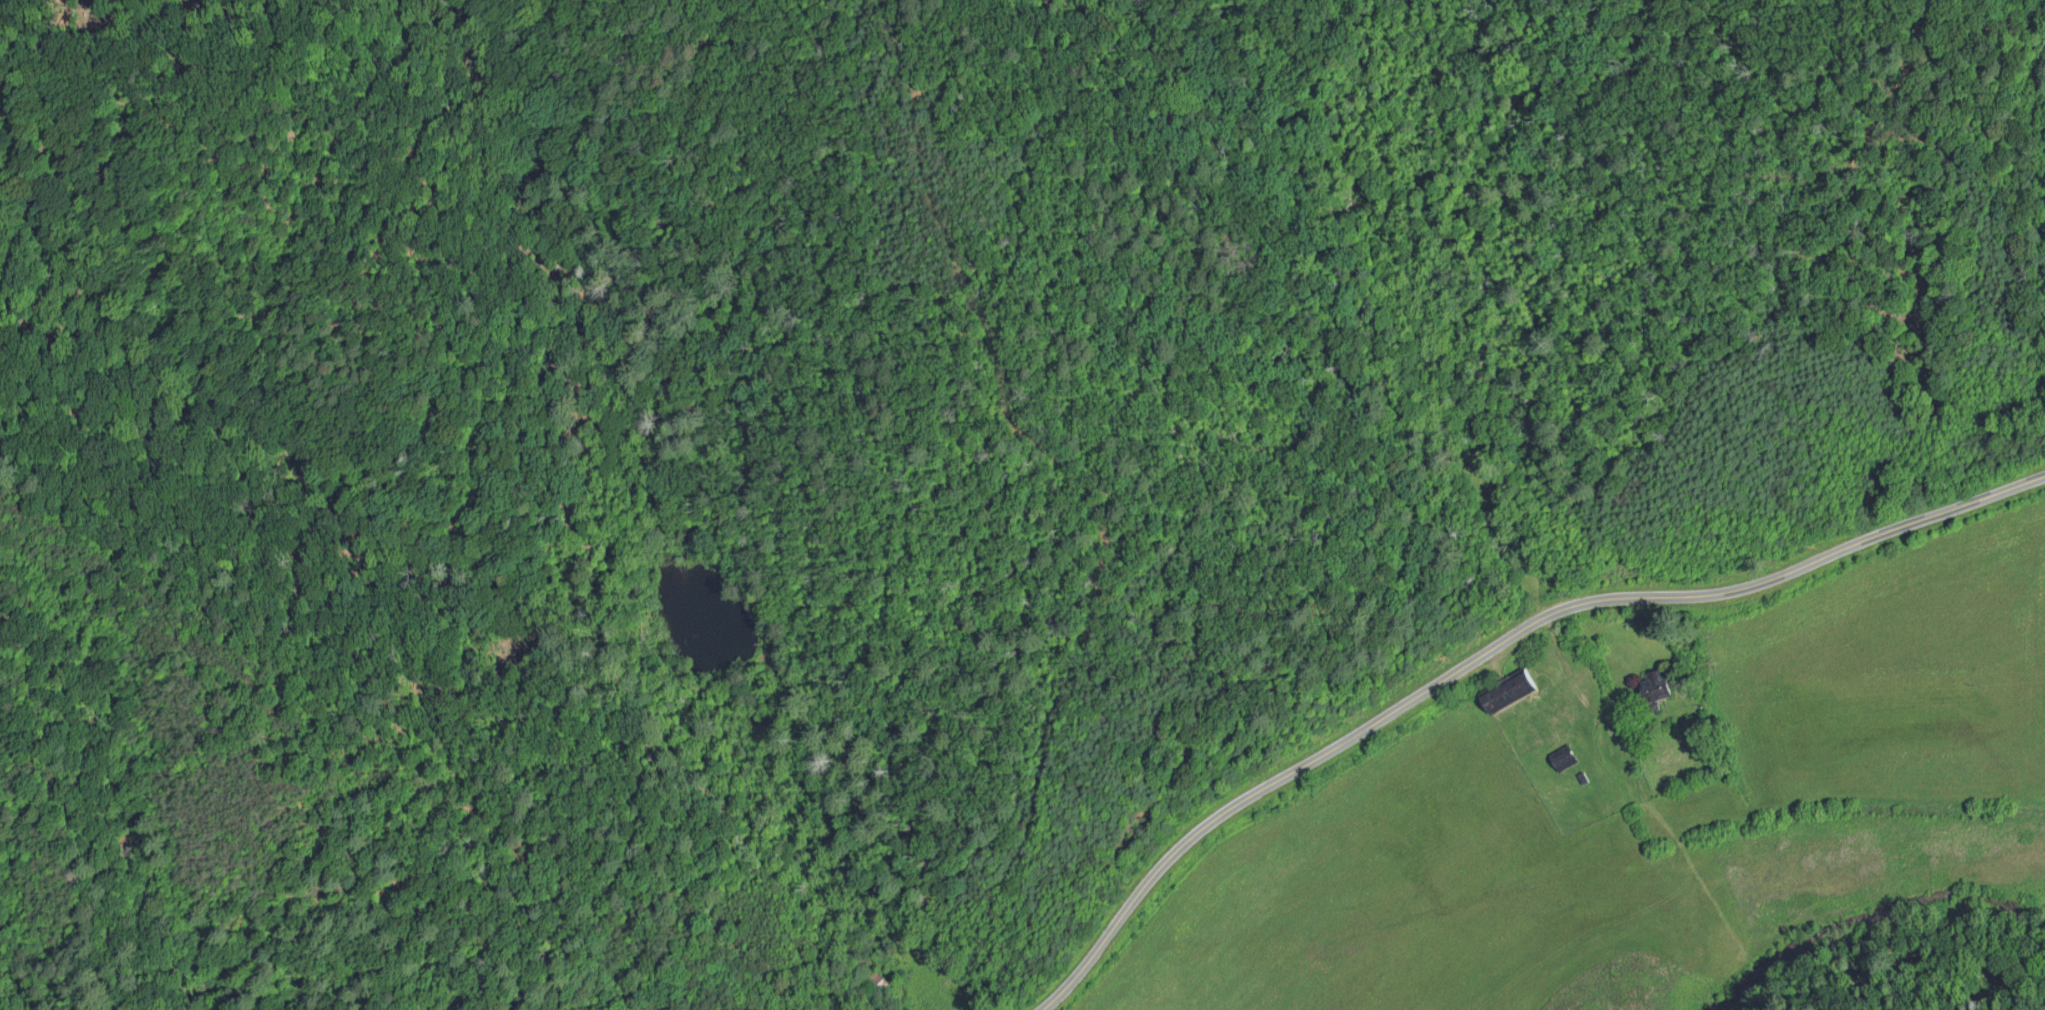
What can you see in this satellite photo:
road: (1512, 318)
road: (1491, 647)
building: (1653, 687)
building: (1508, 697)
building: (1562, 759)
building: (876, 982)

